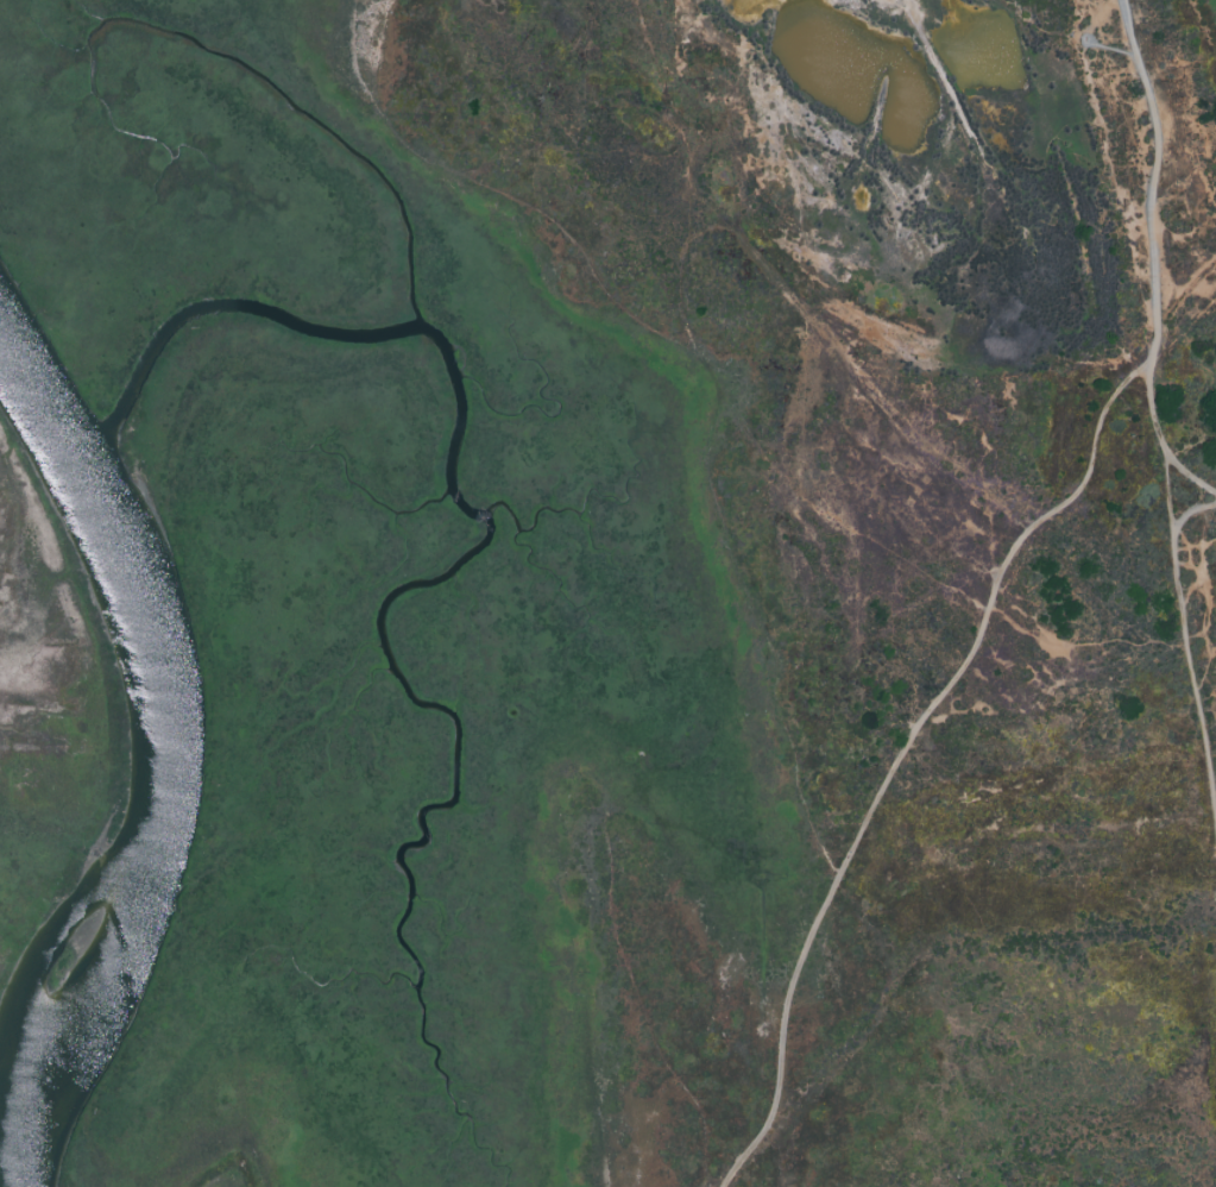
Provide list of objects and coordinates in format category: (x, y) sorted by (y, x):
road: (1152, 230)
road: (1189, 481)
road: (1170, 495)
road: (1193, 513)
road: (1192, 665)
road: (907, 756)
river: (166, 765)

